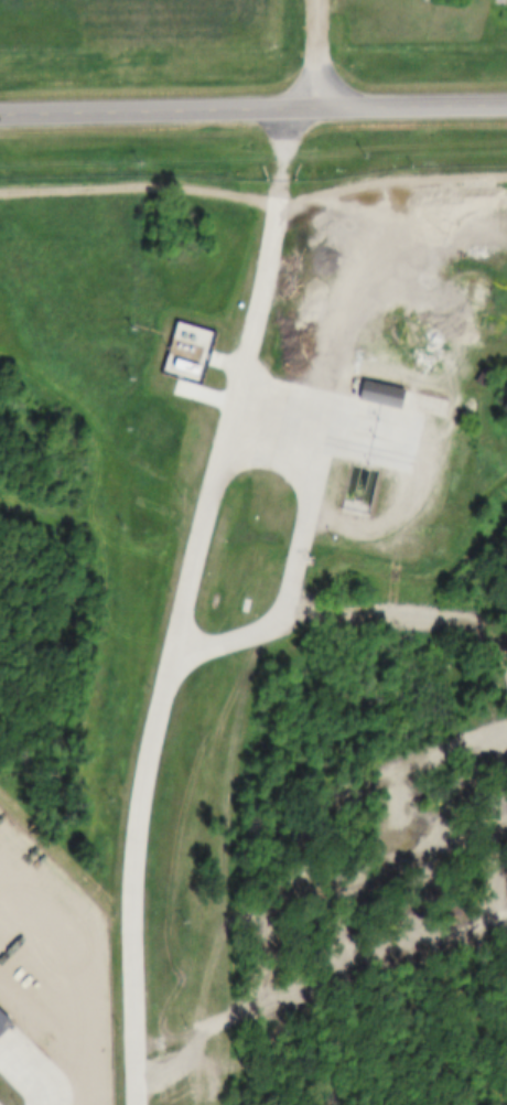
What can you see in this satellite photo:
road: (321, 53)
road: (252, 107)
building: (179, 352)
building: (370, 393)
road: (303, 533)
road: (185, 602)
building: (195, 621)
building: (2, 1022)
road: (25, 1075)

